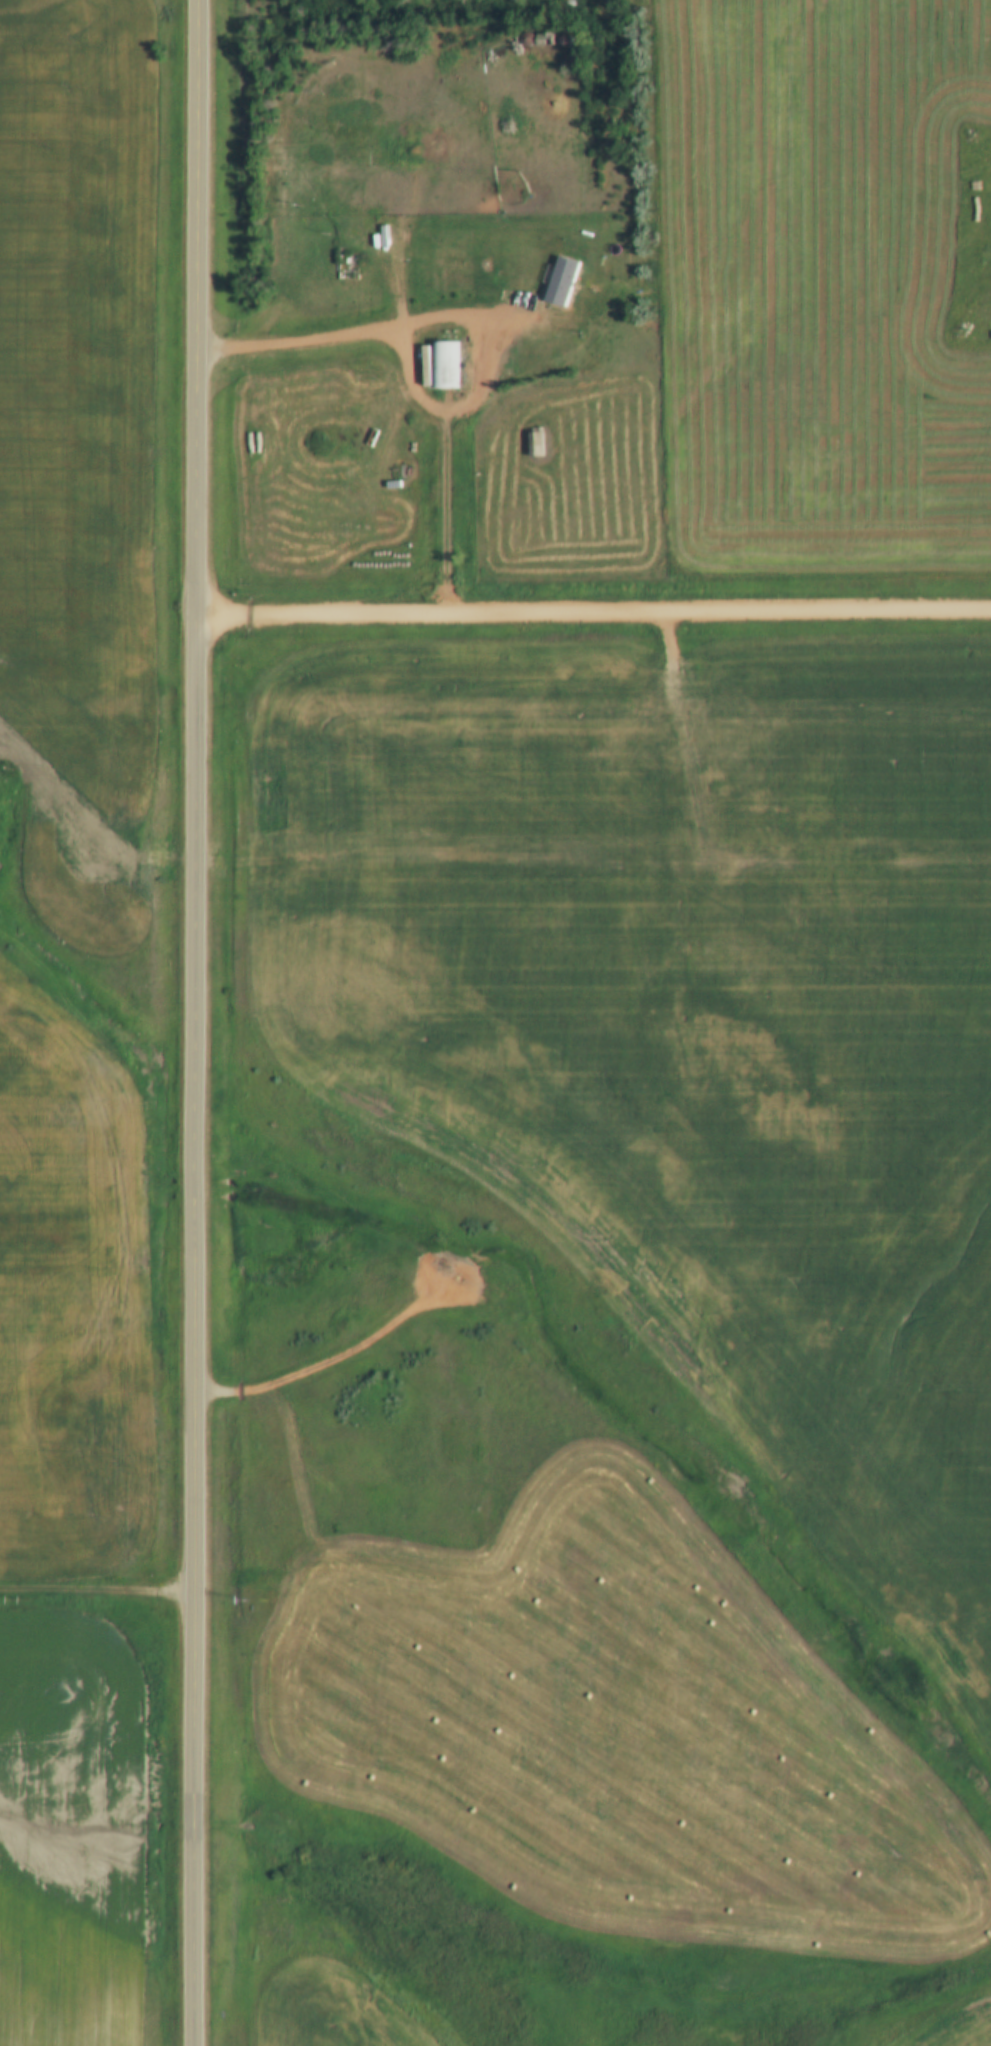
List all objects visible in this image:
building: (569, 3)
building: (525, 39)
building: (543, 39)
building: (568, 61)
building: (560, 281)
road: (447, 319)
building: (444, 365)
building: (534, 445)
road: (593, 613)
road: (195, 1022)
road: (330, 1364)
road: (97, 1595)

